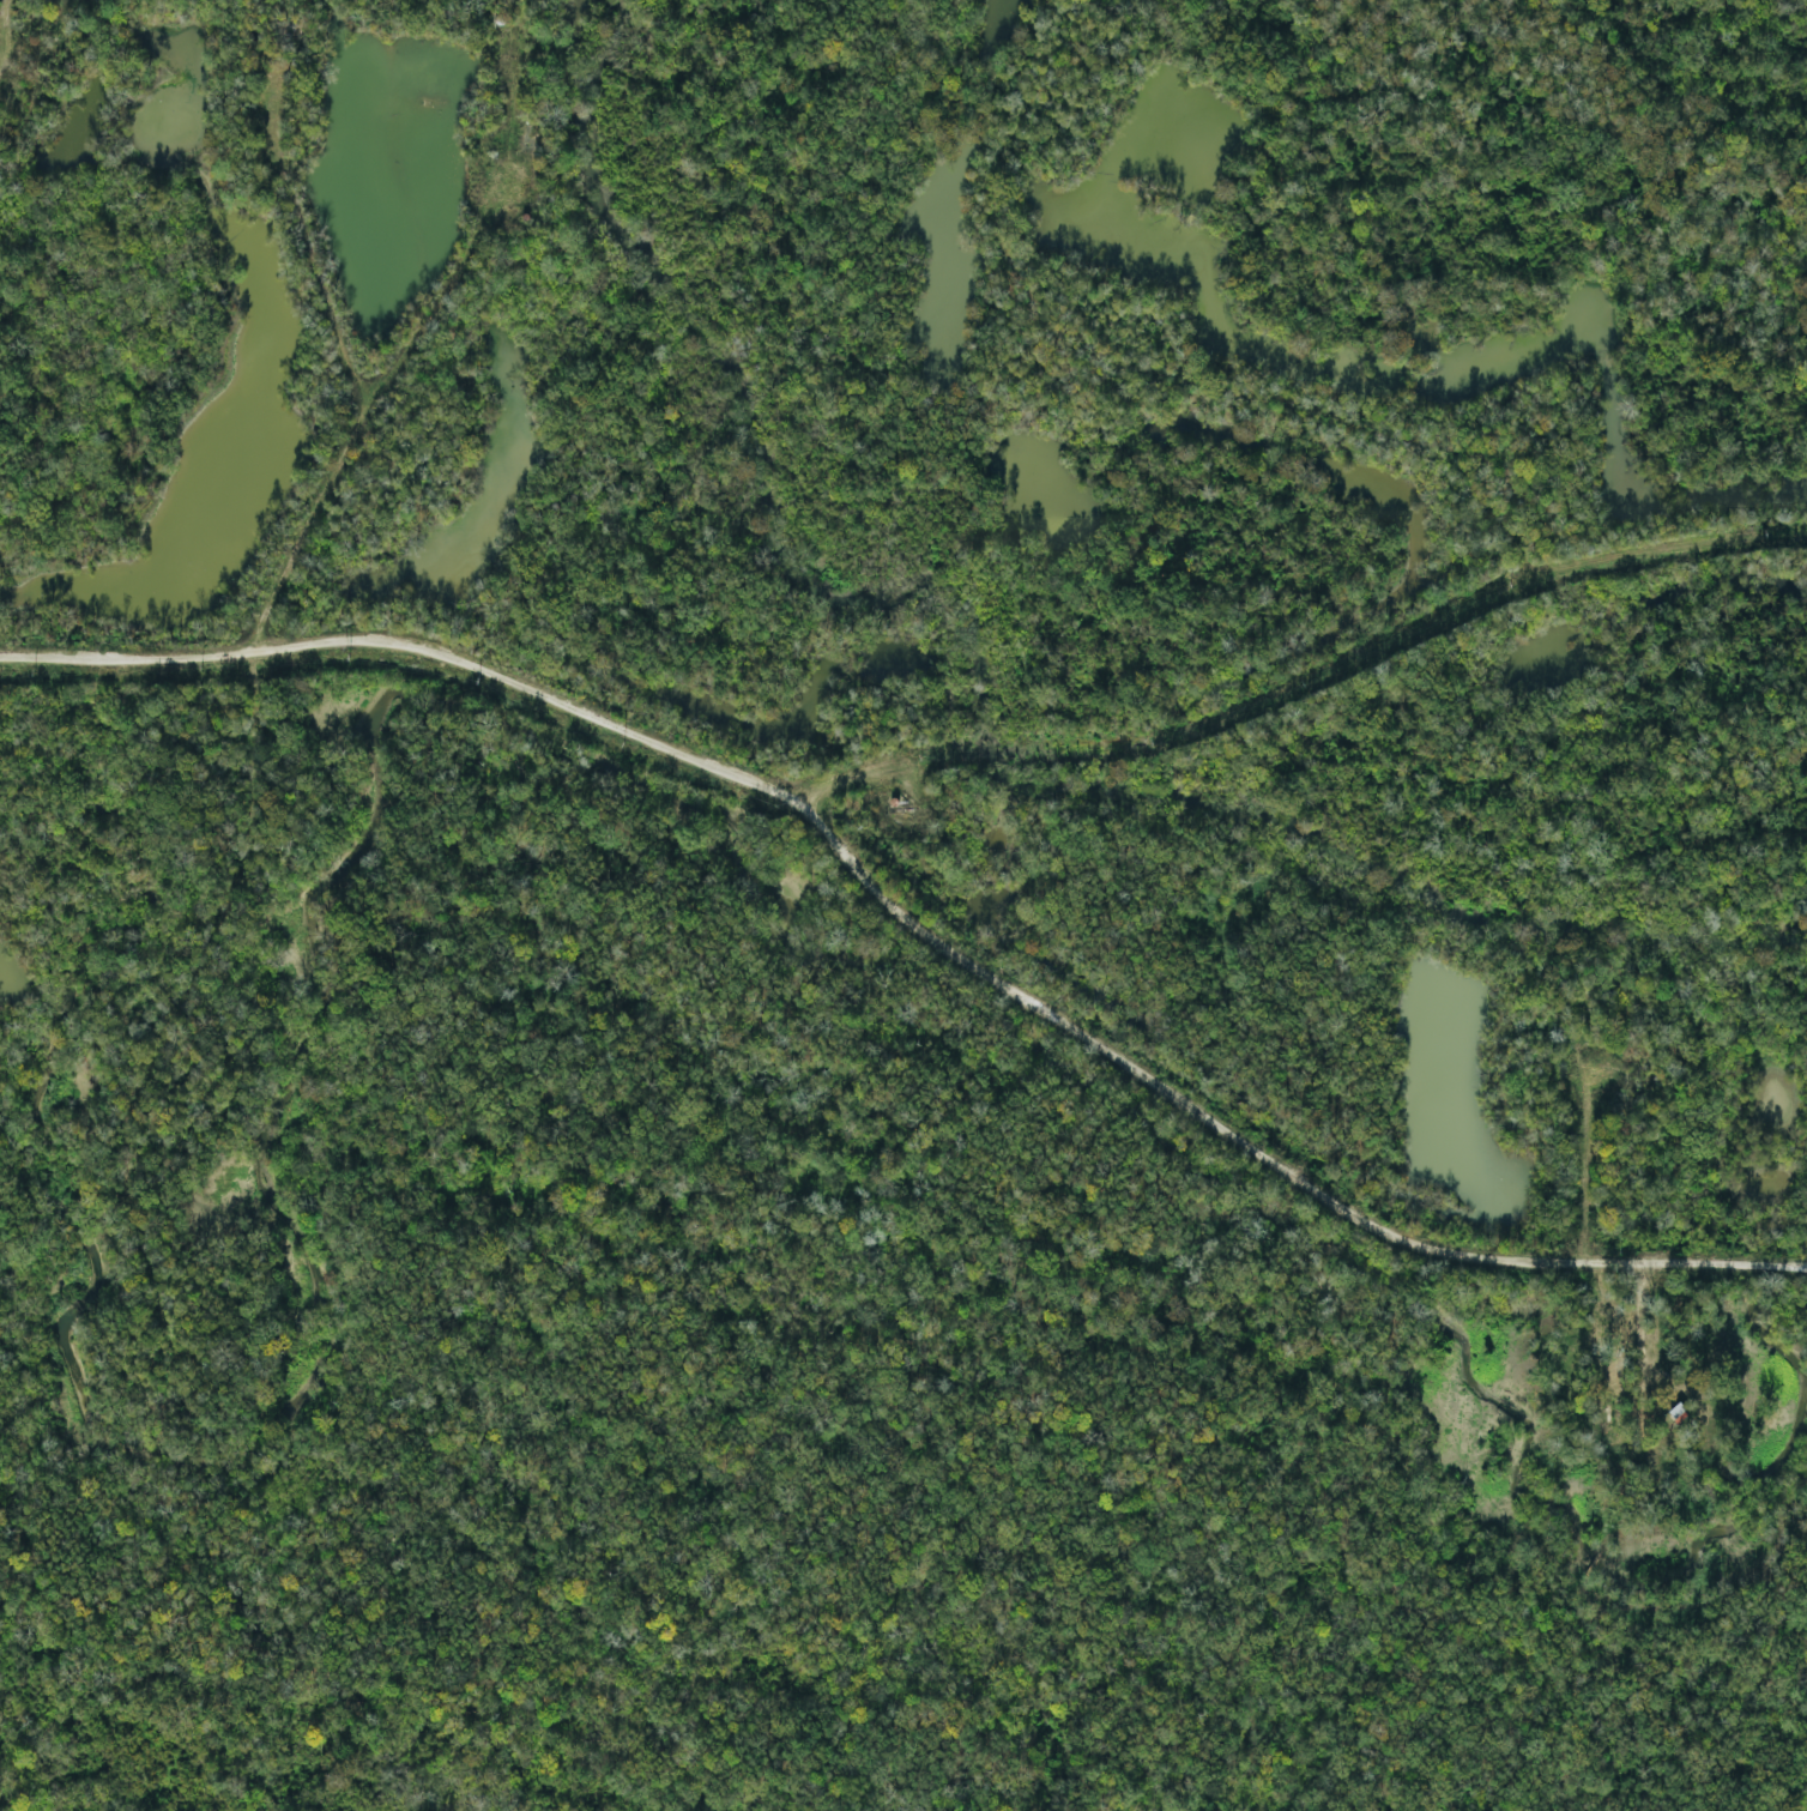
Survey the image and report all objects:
road: (326, 290)
road: (1324, 392)
road: (261, 647)
road: (1187, 686)
road: (920, 905)

